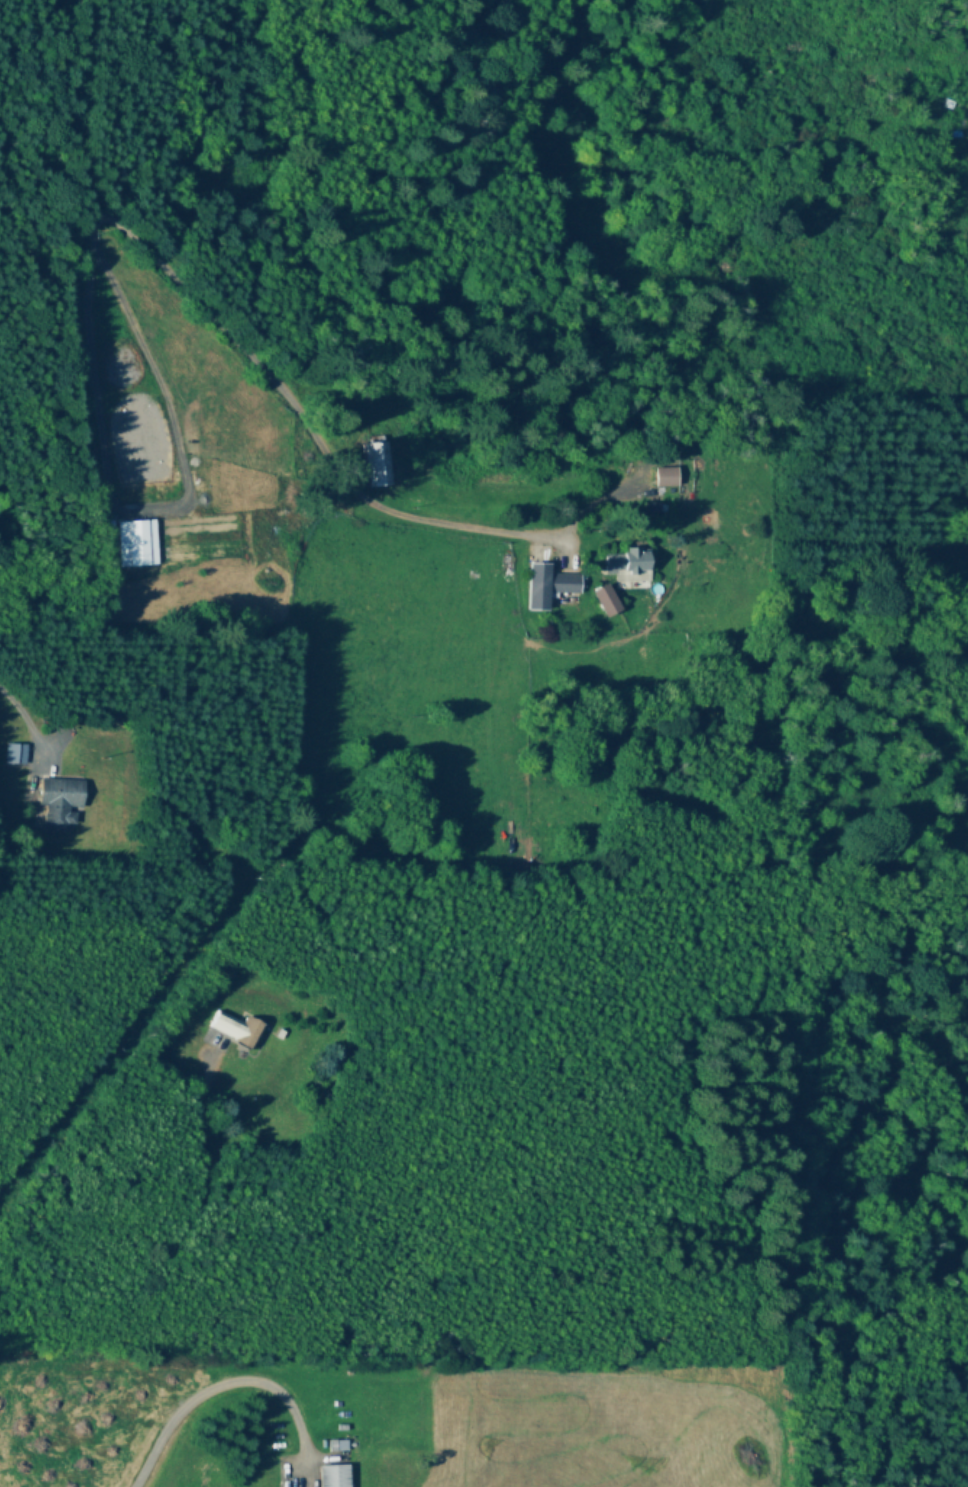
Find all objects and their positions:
building: (379, 463)
building: (635, 566)
building: (566, 586)
building: (538, 587)
building: (17, 755)
building: (60, 802)
building: (238, 1030)
road: (212, 1383)
building: (335, 1476)

